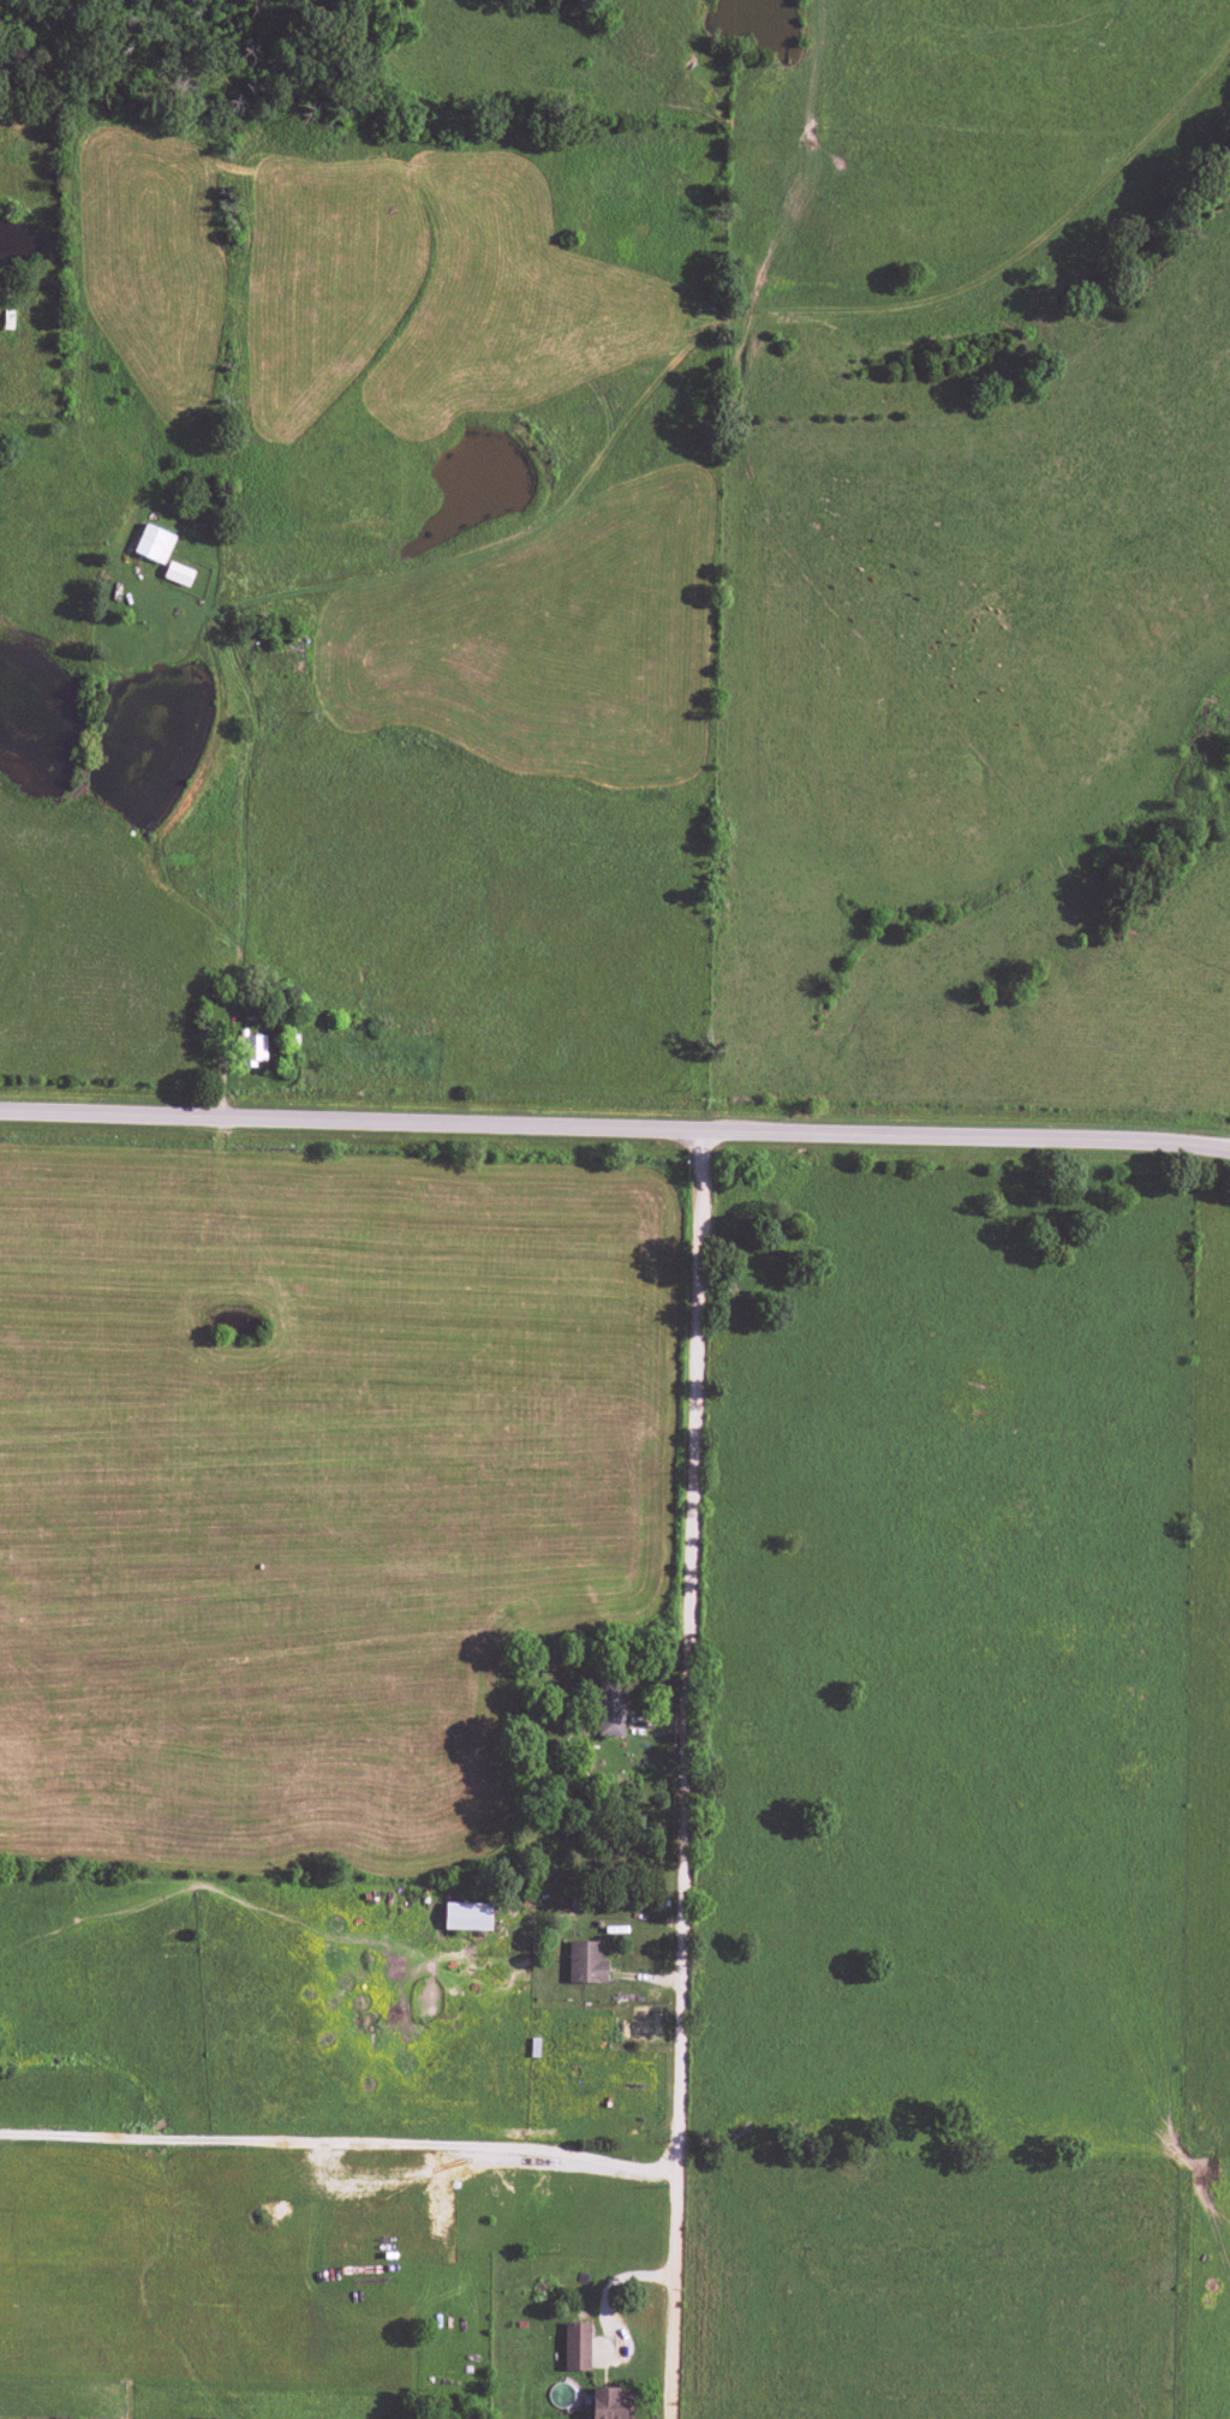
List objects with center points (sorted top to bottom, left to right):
building: (154, 544)
building: (252, 1049)
road: (615, 1123)
building: (609, 1707)
road: (687, 1772)
building: (467, 1916)
building: (586, 1963)
road: (339, 2142)
building: (577, 2346)
building: (609, 2403)

